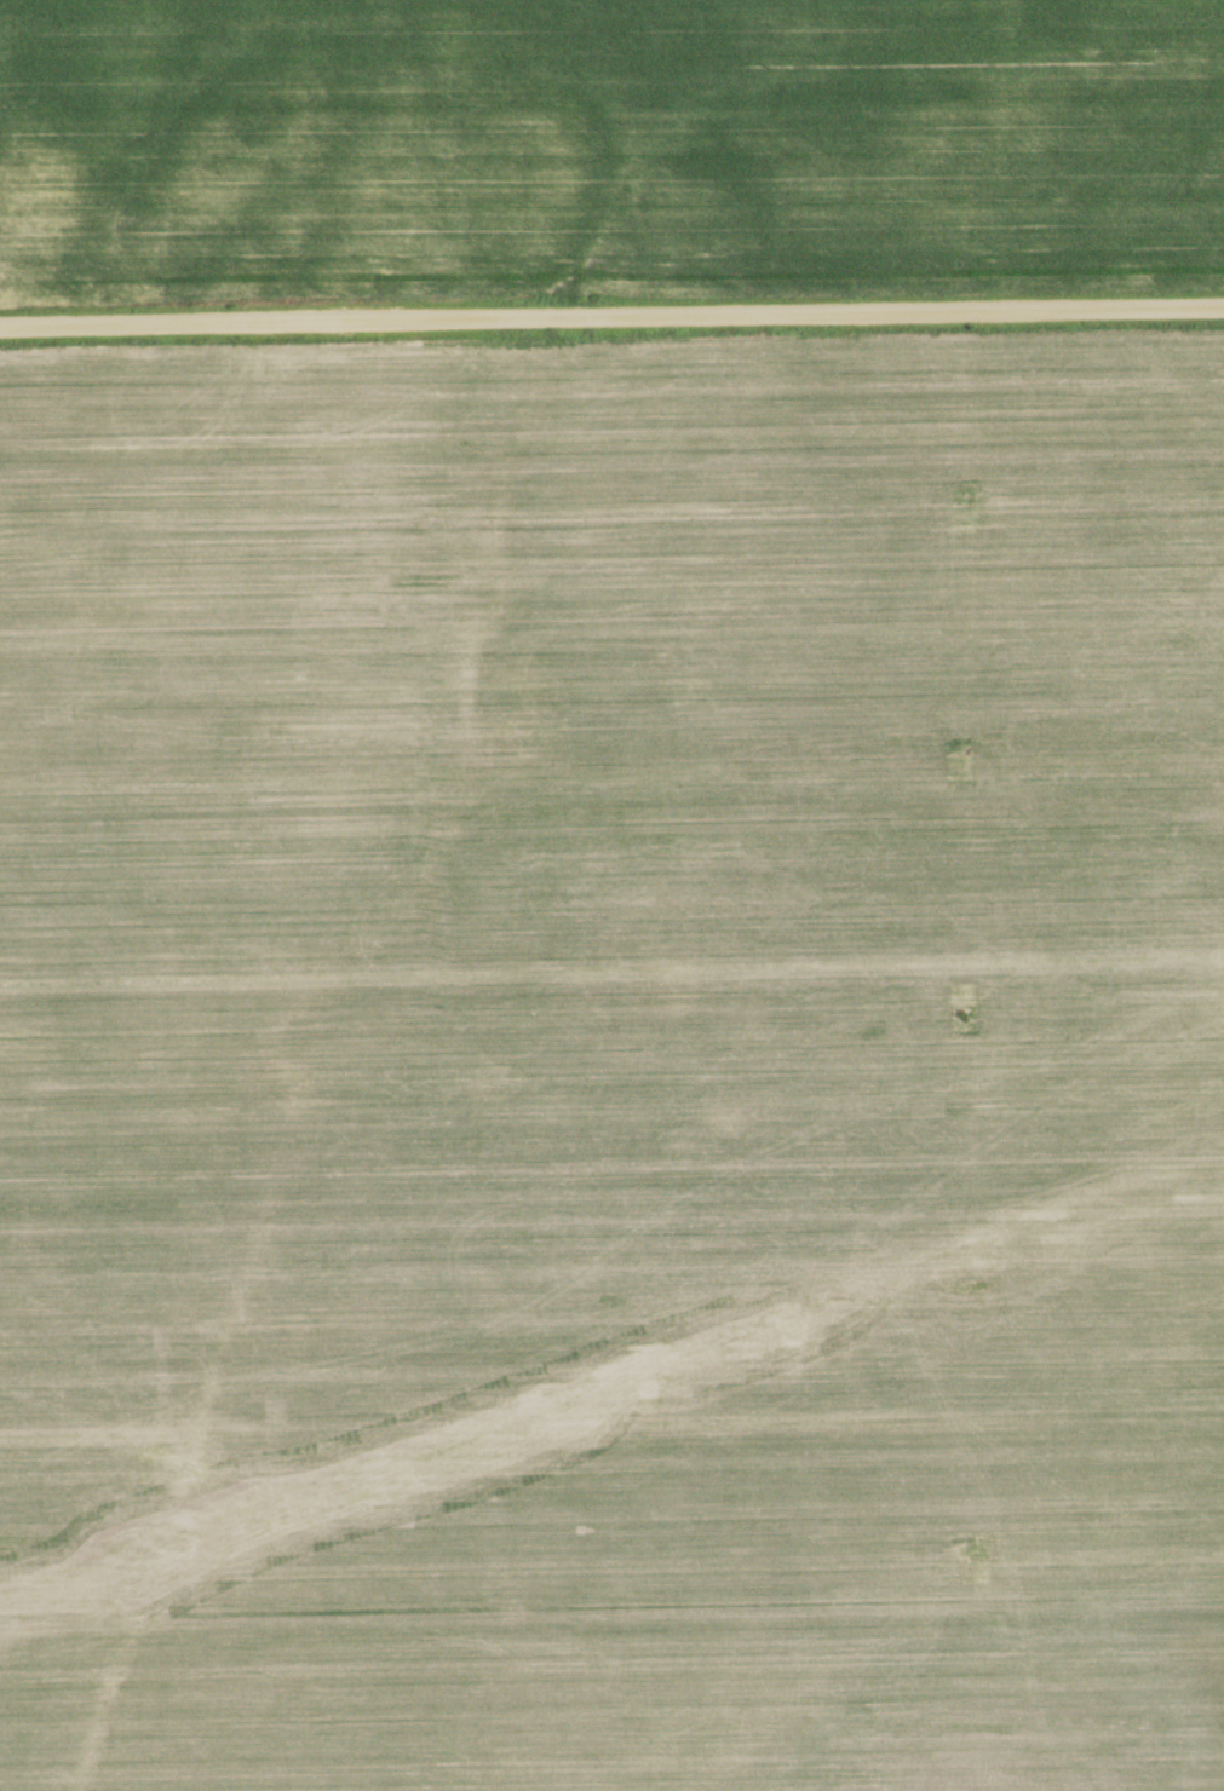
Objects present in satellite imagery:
road: (611, 321)

